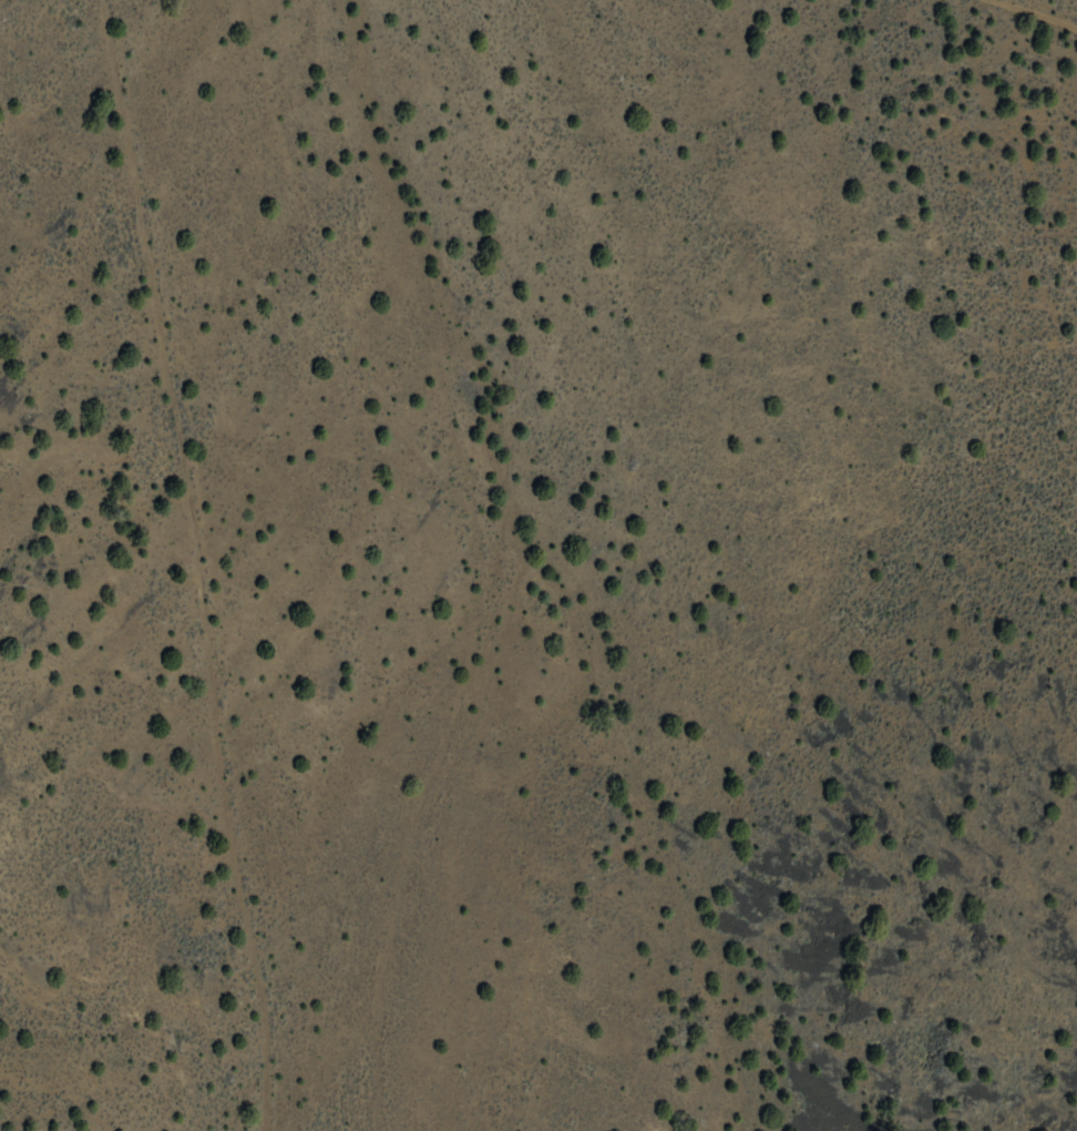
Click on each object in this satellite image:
road: (1037, 13)
road: (201, 563)

